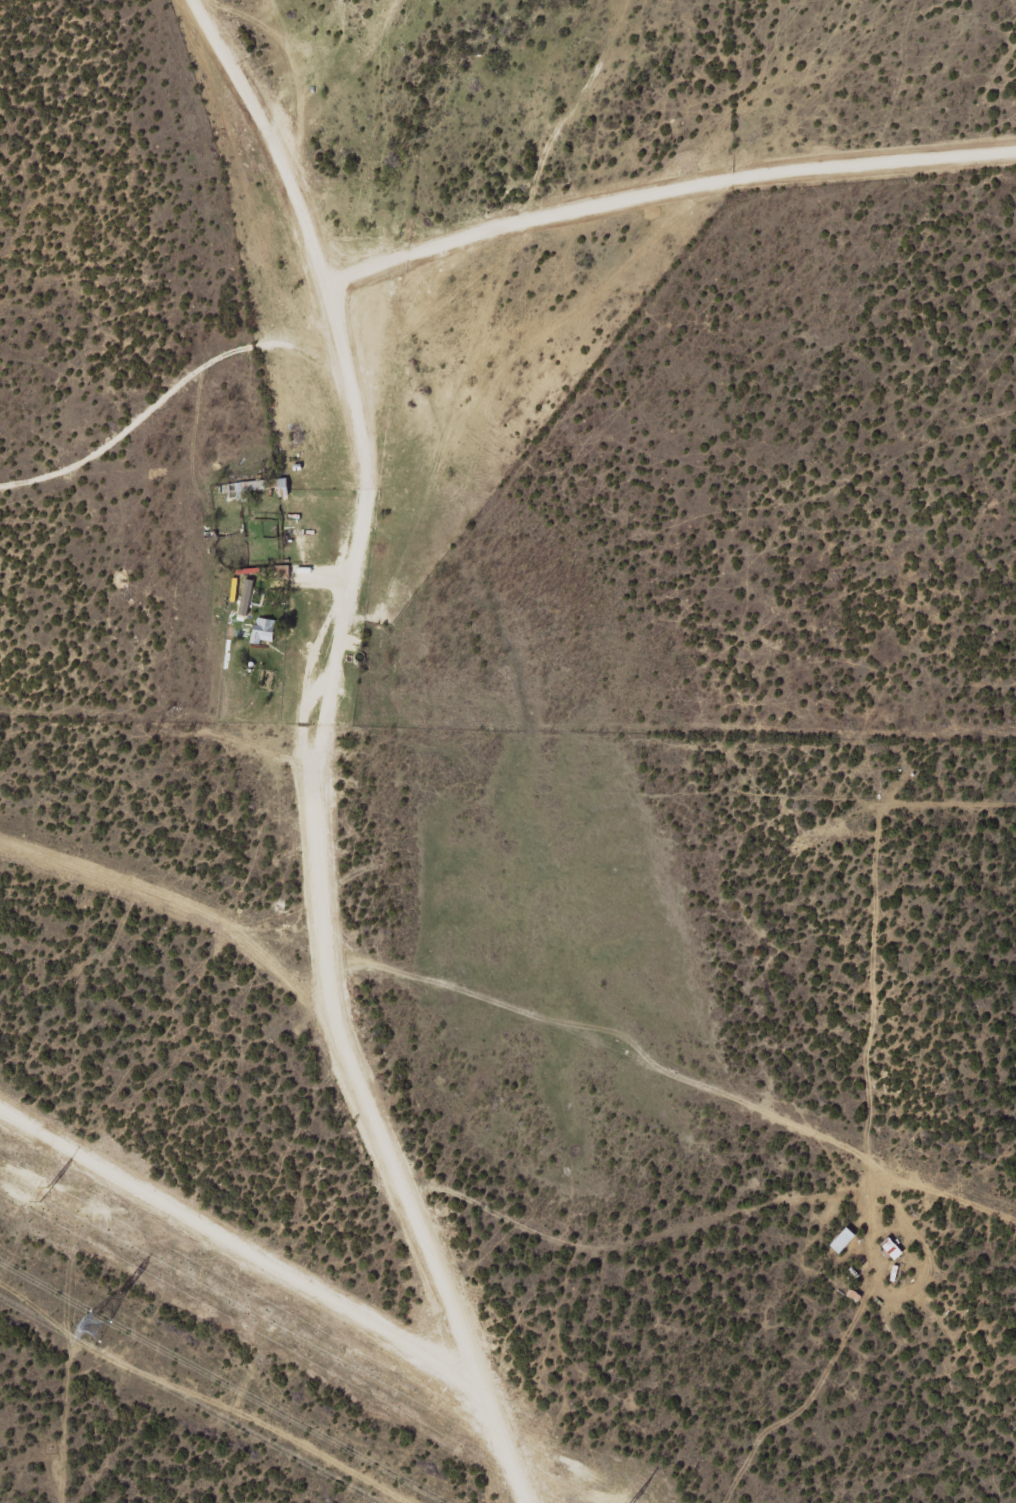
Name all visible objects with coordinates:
road: (239, 224)
road: (342, 386)
building: (266, 629)
road: (309, 773)
road: (359, 1083)
power tower: (91, 1325)

